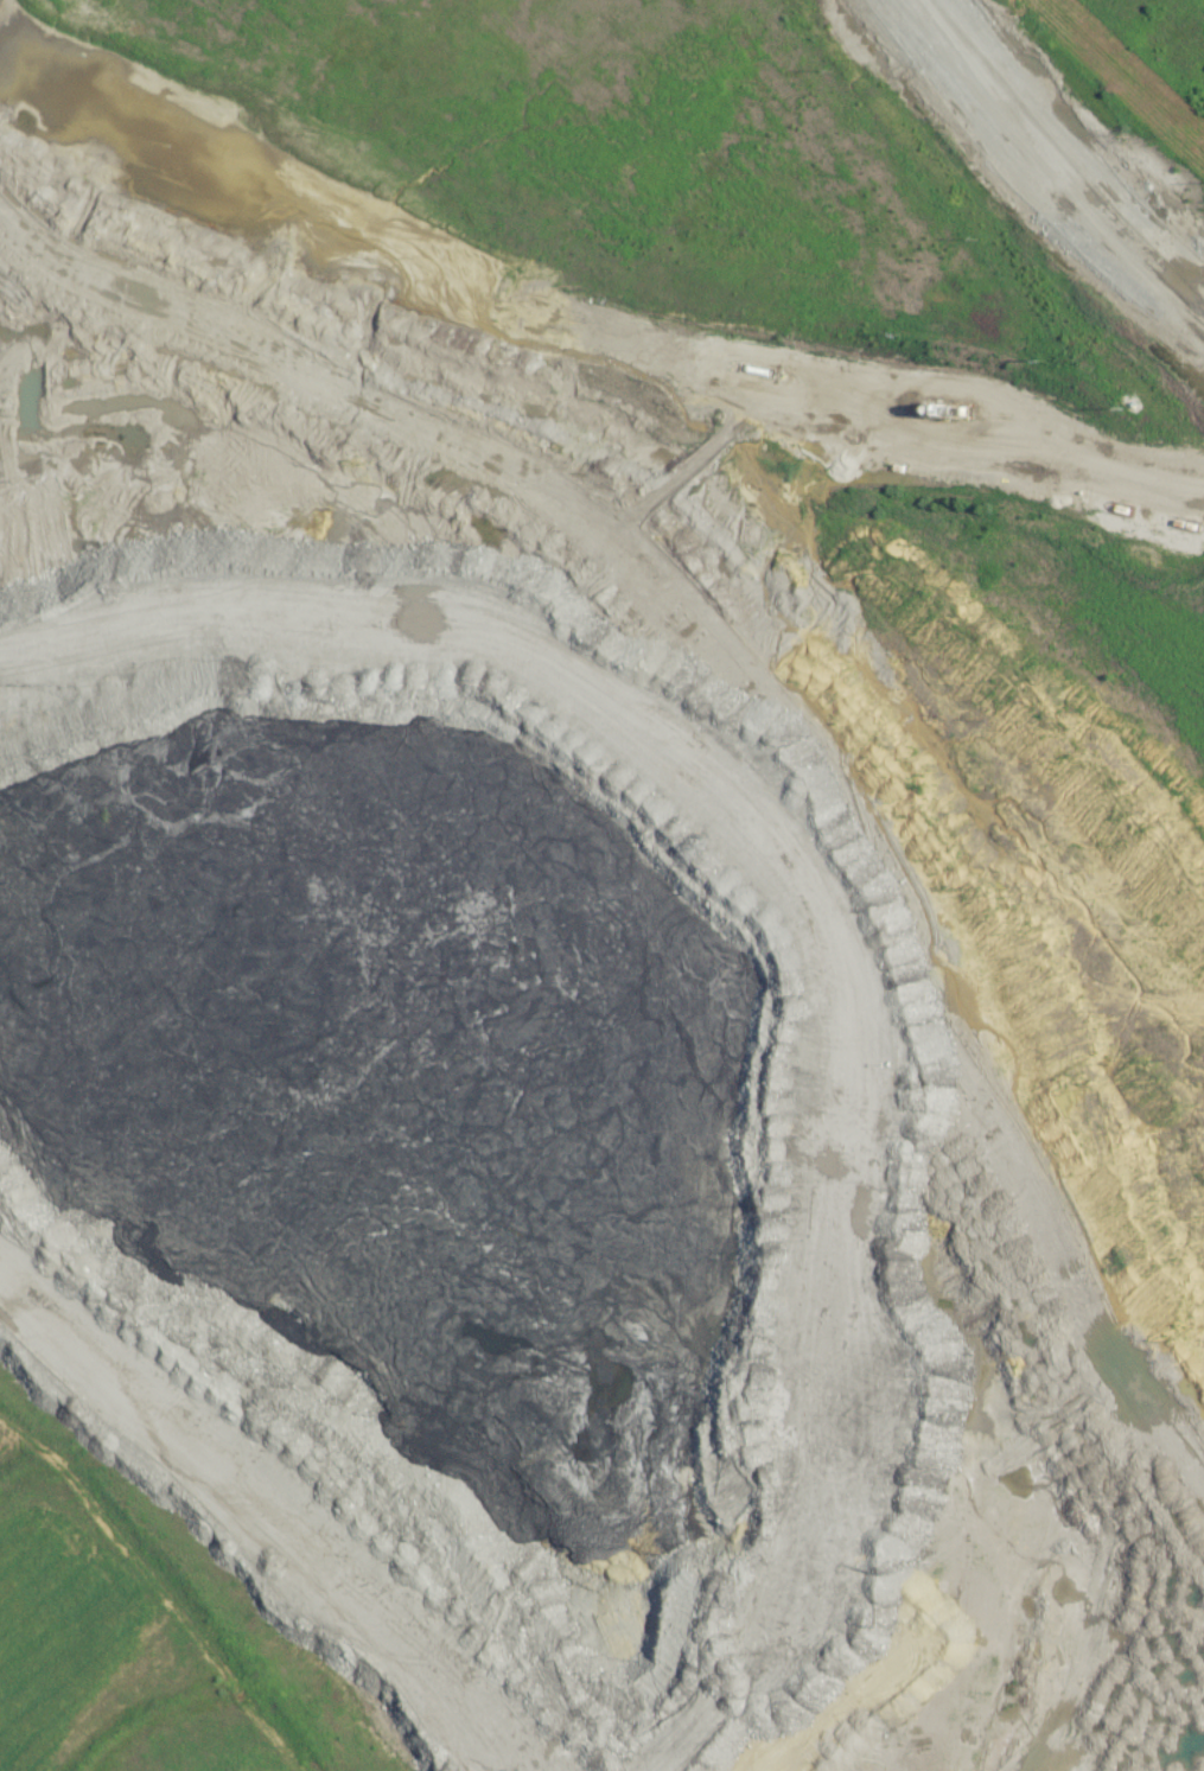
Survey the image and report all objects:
road: (1055, 158)
road: (590, 402)

